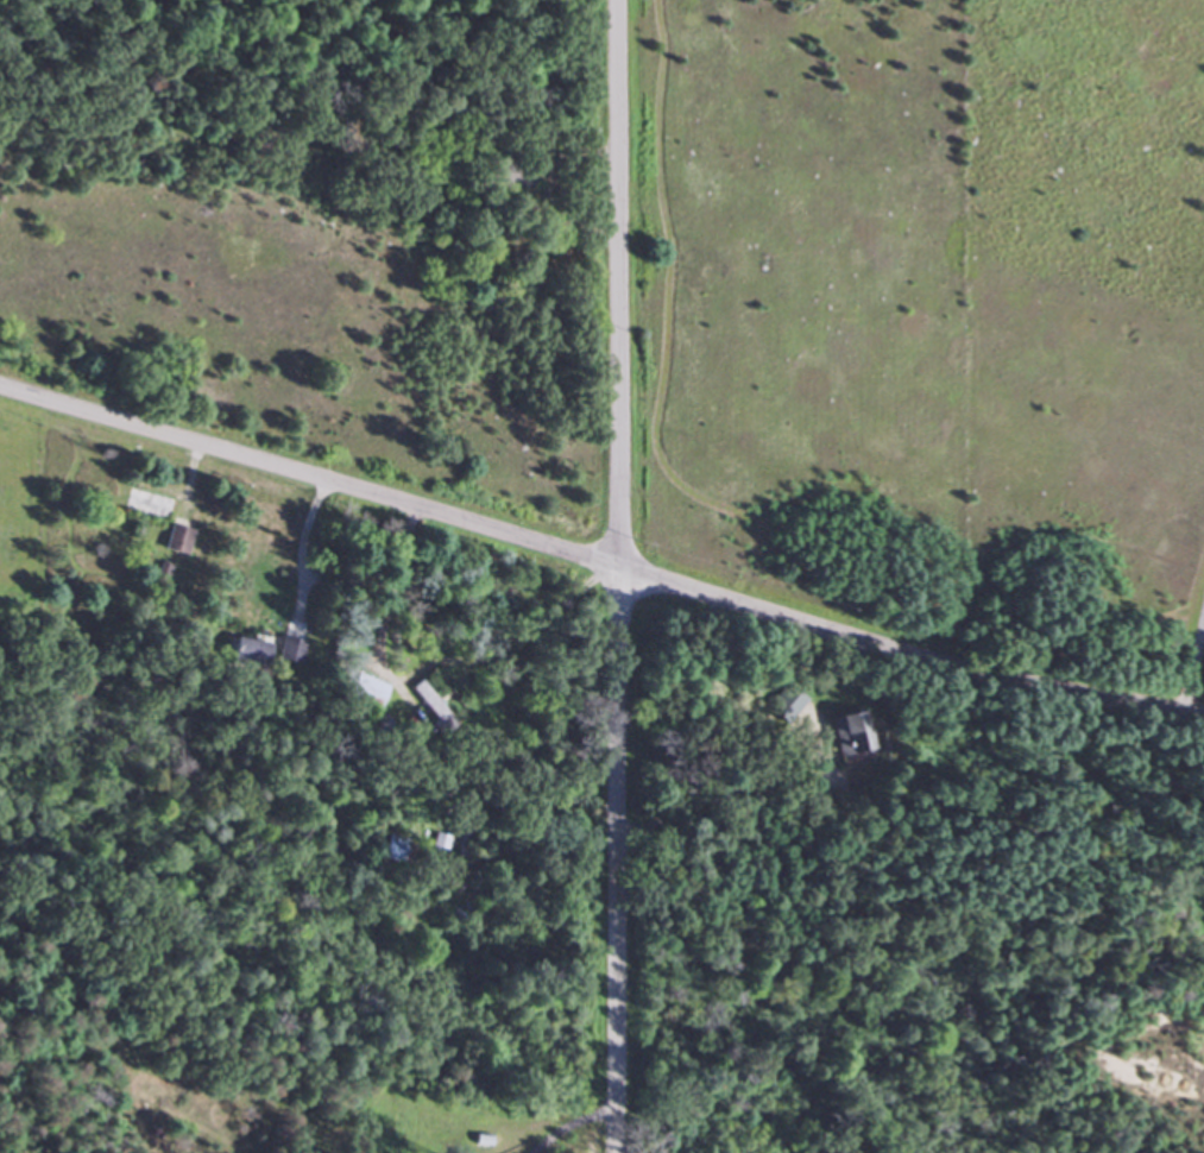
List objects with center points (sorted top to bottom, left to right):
building: (143, 504)
building: (174, 540)
road: (298, 554)
road: (599, 562)
road: (613, 575)
building: (286, 650)
building: (246, 651)
road: (1194, 664)
road: (428, 667)
building: (361, 691)
building: (423, 697)
building: (783, 704)
building: (849, 732)
road: (706, 804)

